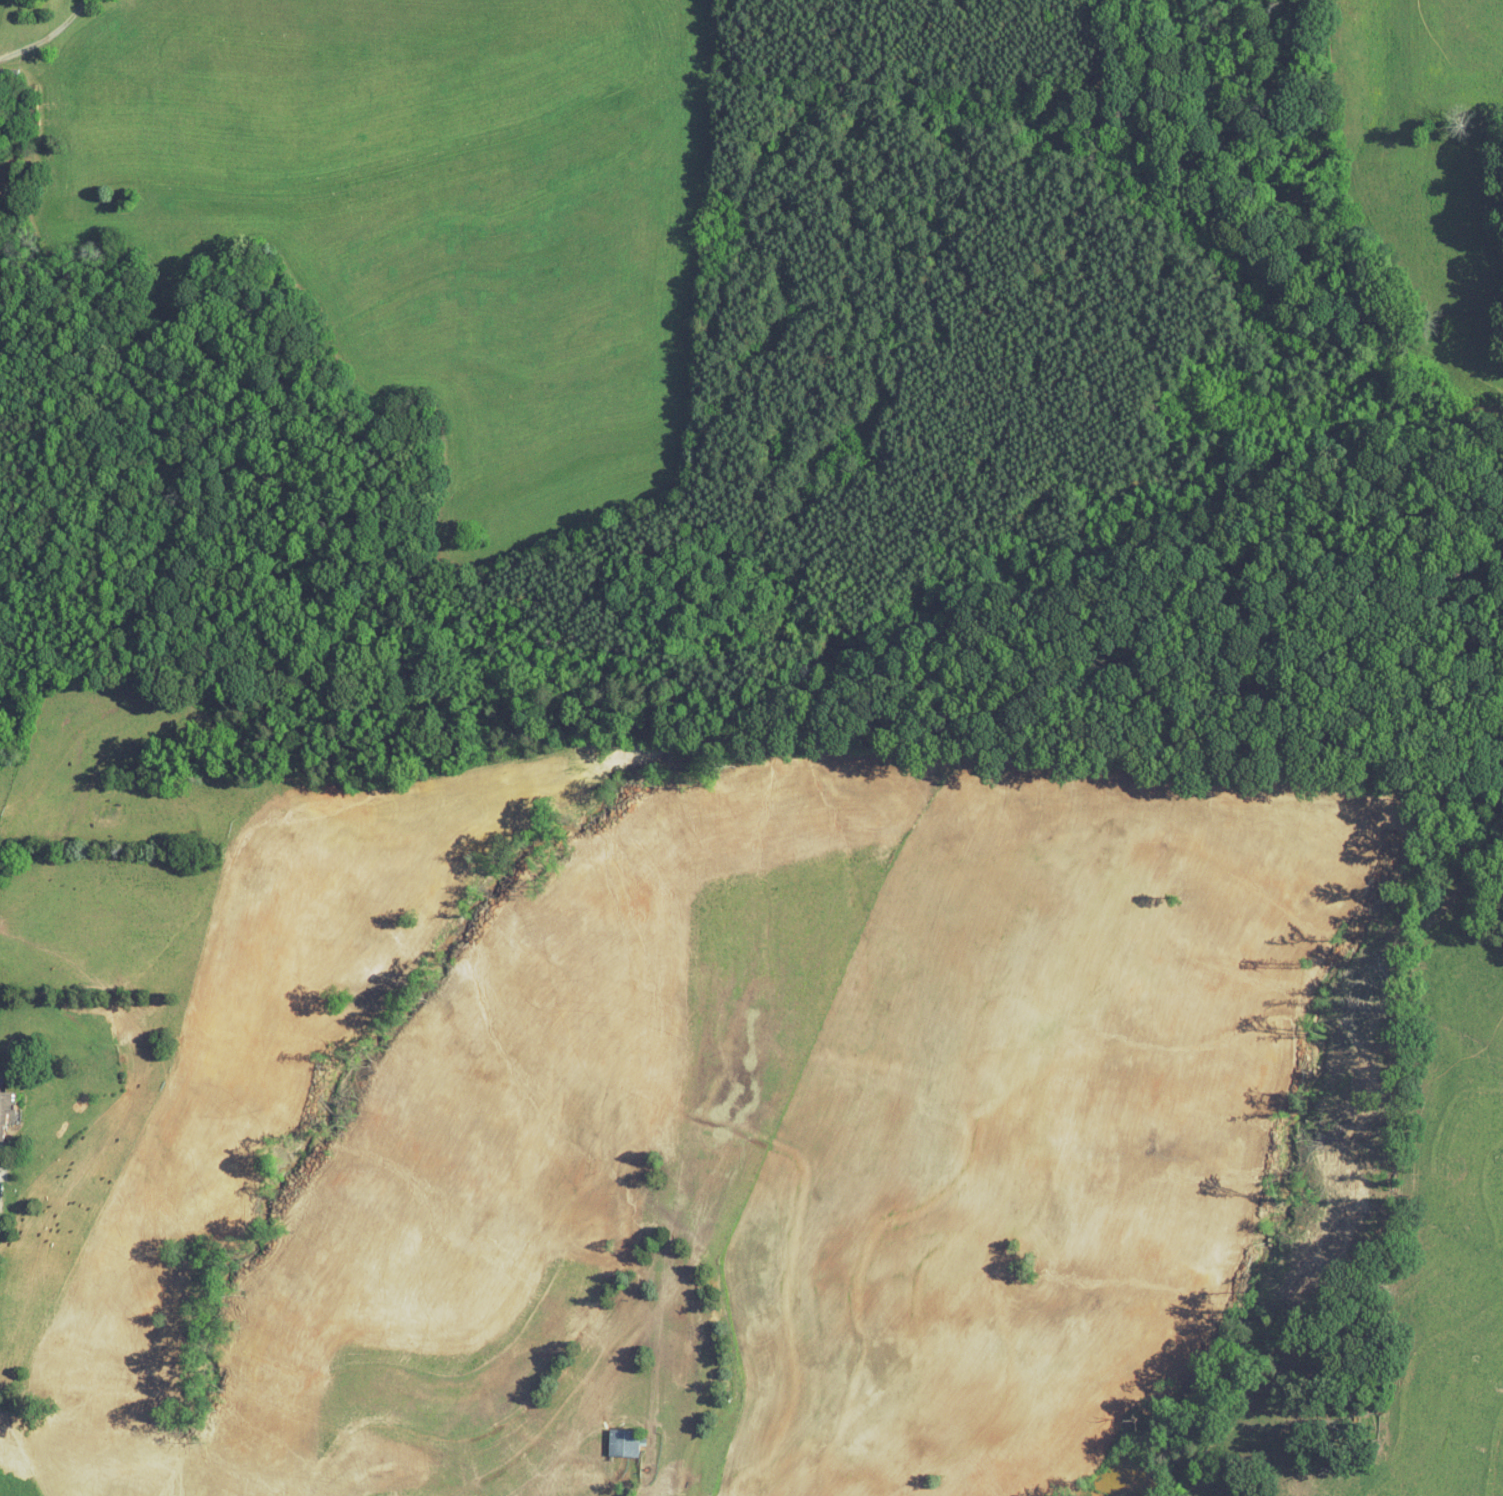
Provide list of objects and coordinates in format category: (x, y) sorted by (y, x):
road: (29, 39)
building: (6, 1109)
building: (626, 1442)

